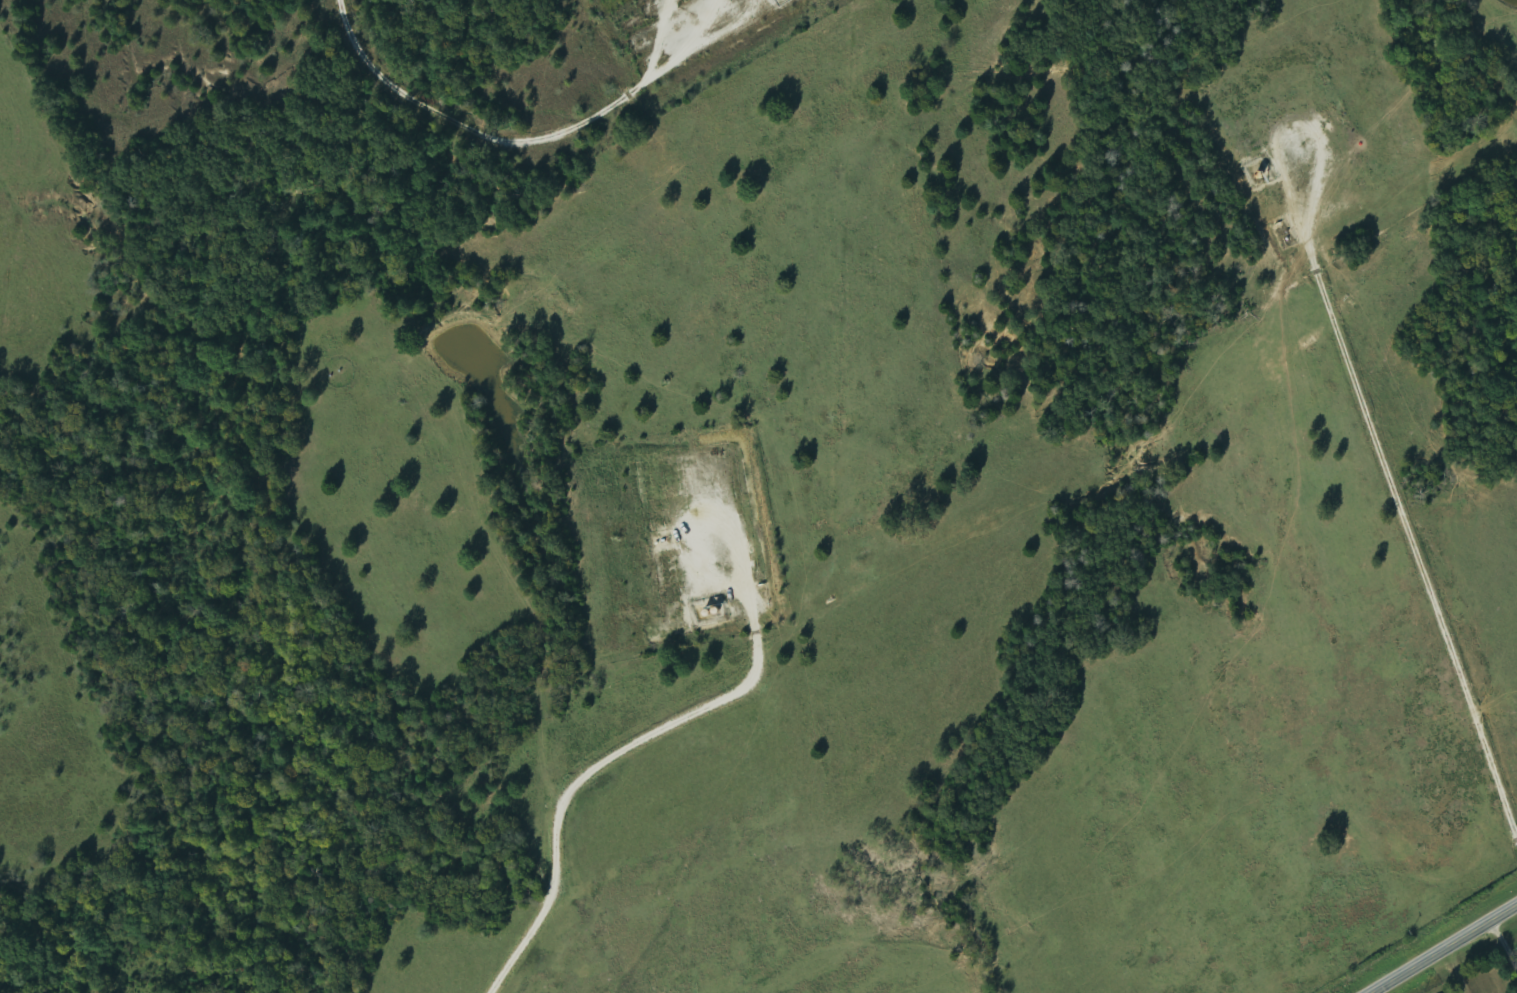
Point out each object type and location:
road: (1442, 948)

